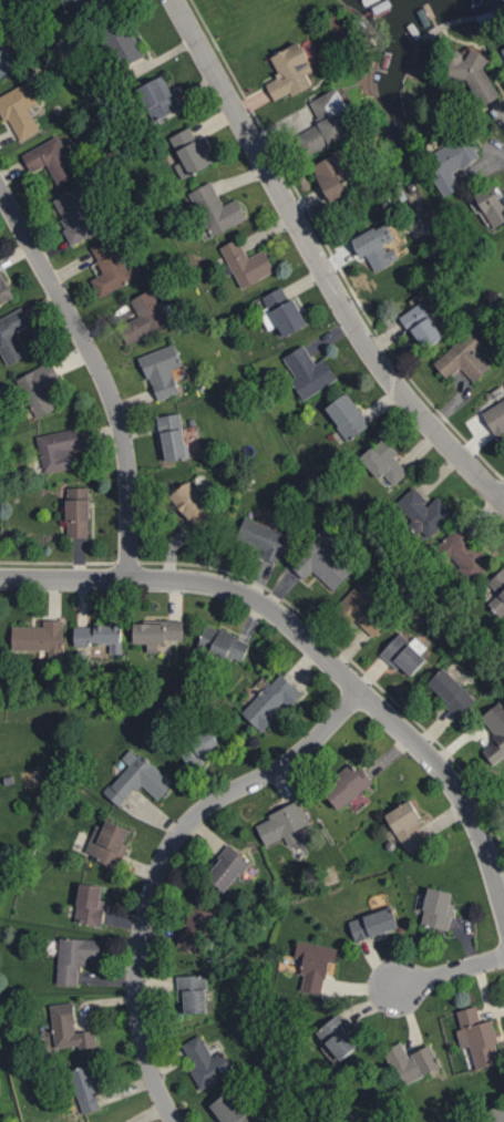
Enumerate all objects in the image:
building: (79, 3)
building: (122, 42)
building: (503, 49)
building: (7, 61)
building: (290, 71)
building: (472, 74)
building: (158, 97)
building: (20, 110)
building: (328, 121)
building: (189, 152)
building: (51, 159)
building: (452, 162)
building: (333, 175)
building: (492, 204)
building: (217, 208)
building: (76, 215)
building: (377, 246)
building: (247, 263)
road: (320, 266)
building: (112, 267)
building: (4, 289)
building: (282, 311)
building: (146, 315)
building: (422, 326)
building: (13, 334)
building: (463, 358)
building: (162, 370)
building: (309, 371)
road: (101, 373)
building: (40, 388)
building: (347, 415)
building: (495, 416)
building: (173, 436)
building: (60, 447)
building: (384, 461)
road: (502, 500)
building: (193, 505)
building: (79, 512)
building: (424, 512)
building: (263, 537)
building: (466, 552)
building: (322, 563)
building: (497, 593)
building: (363, 609)
building: (157, 632)
building: (100, 635)
building: (40, 637)
building: (224, 644)
road: (312, 646)
building: (404, 652)
building: (451, 691)
building: (271, 701)
building: (495, 731)
building: (195, 752)
building: (137, 778)
building: (347, 786)
building: (284, 824)
building: (407, 825)
building: (109, 842)
road: (161, 864)
building: (228, 869)
building: (90, 904)
building: (438, 908)
building: (373, 923)
building: (196, 928)
building: (75, 957)
building: (315, 965)
road: (450, 972)
building: (193, 992)
building: (70, 1028)
building: (338, 1037)
building: (479, 1037)
building: (206, 1062)
building: (412, 1062)
building: (86, 1089)
building: (229, 1110)
building: (495, 1113)

